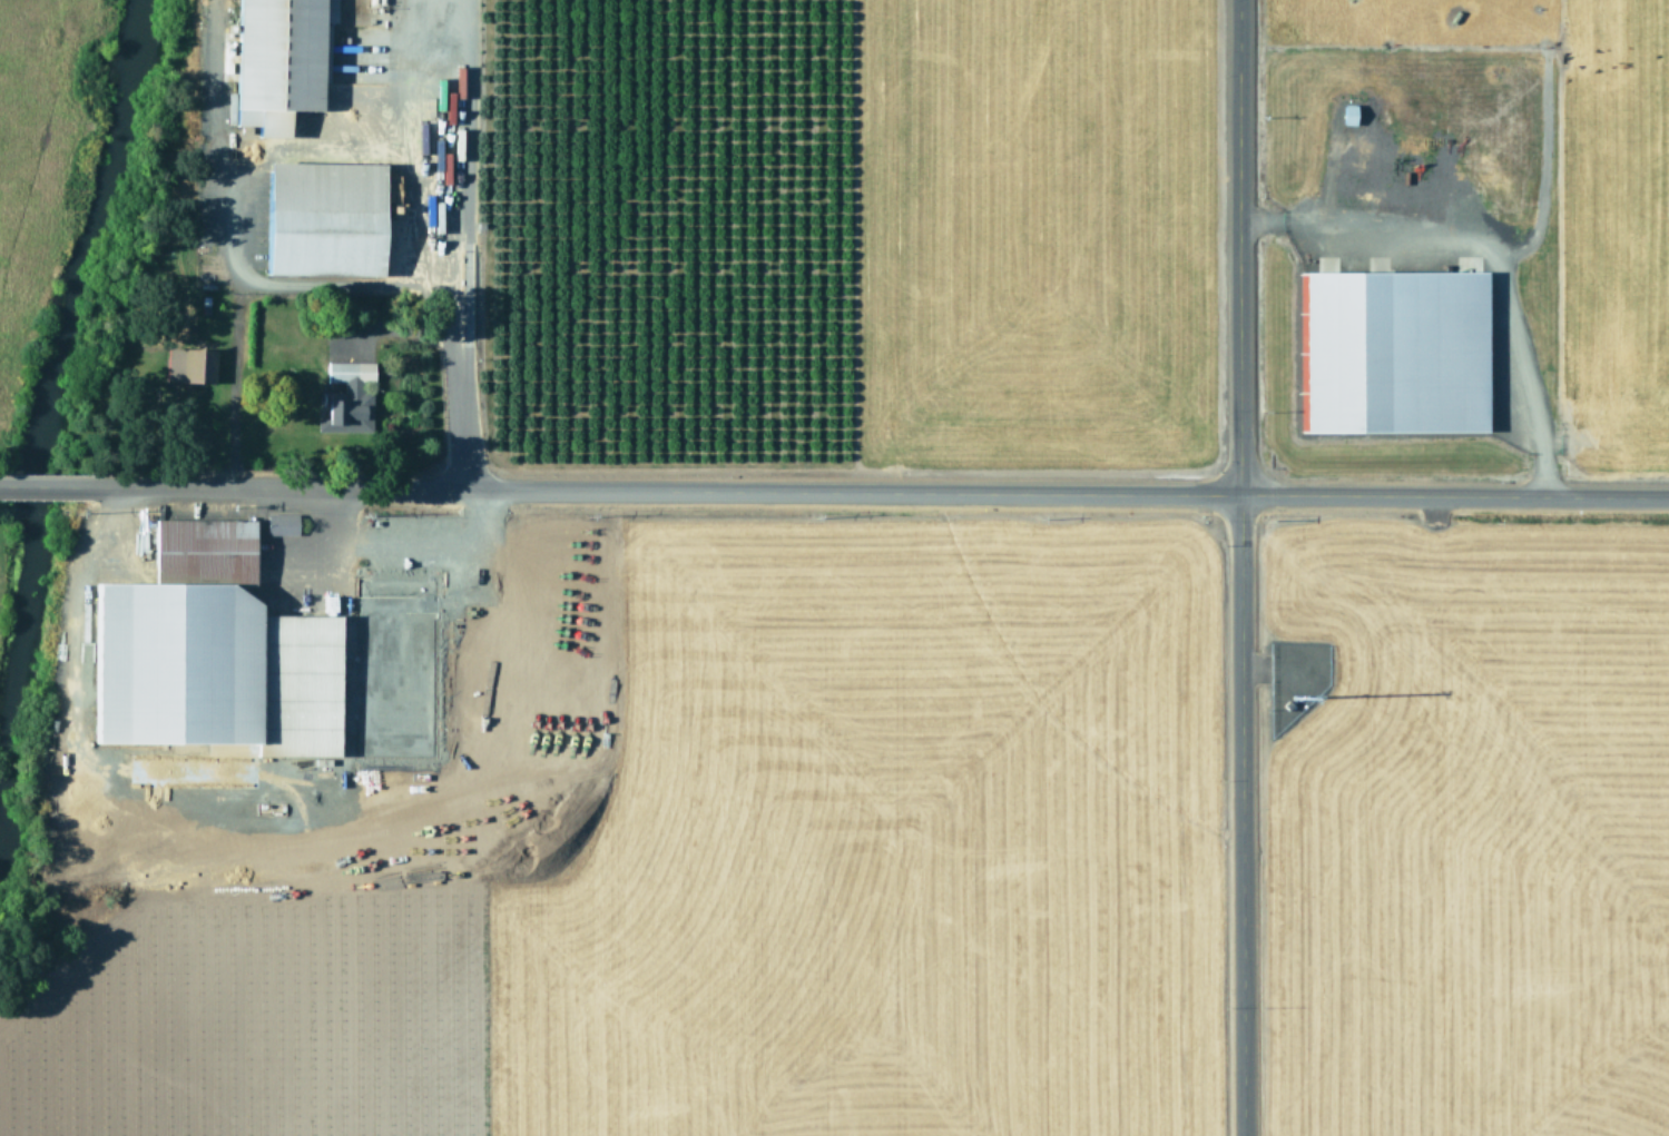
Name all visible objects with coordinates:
building: (282, 55)
building: (1345, 115)
crop: (38, 130)
building: (326, 218)
building: (1396, 352)
building: (186, 365)
building: (345, 398)
road: (47, 487)
road: (881, 492)
building: (278, 524)
road: (1238, 567)
building: (214, 652)
crop: (716, 862)

